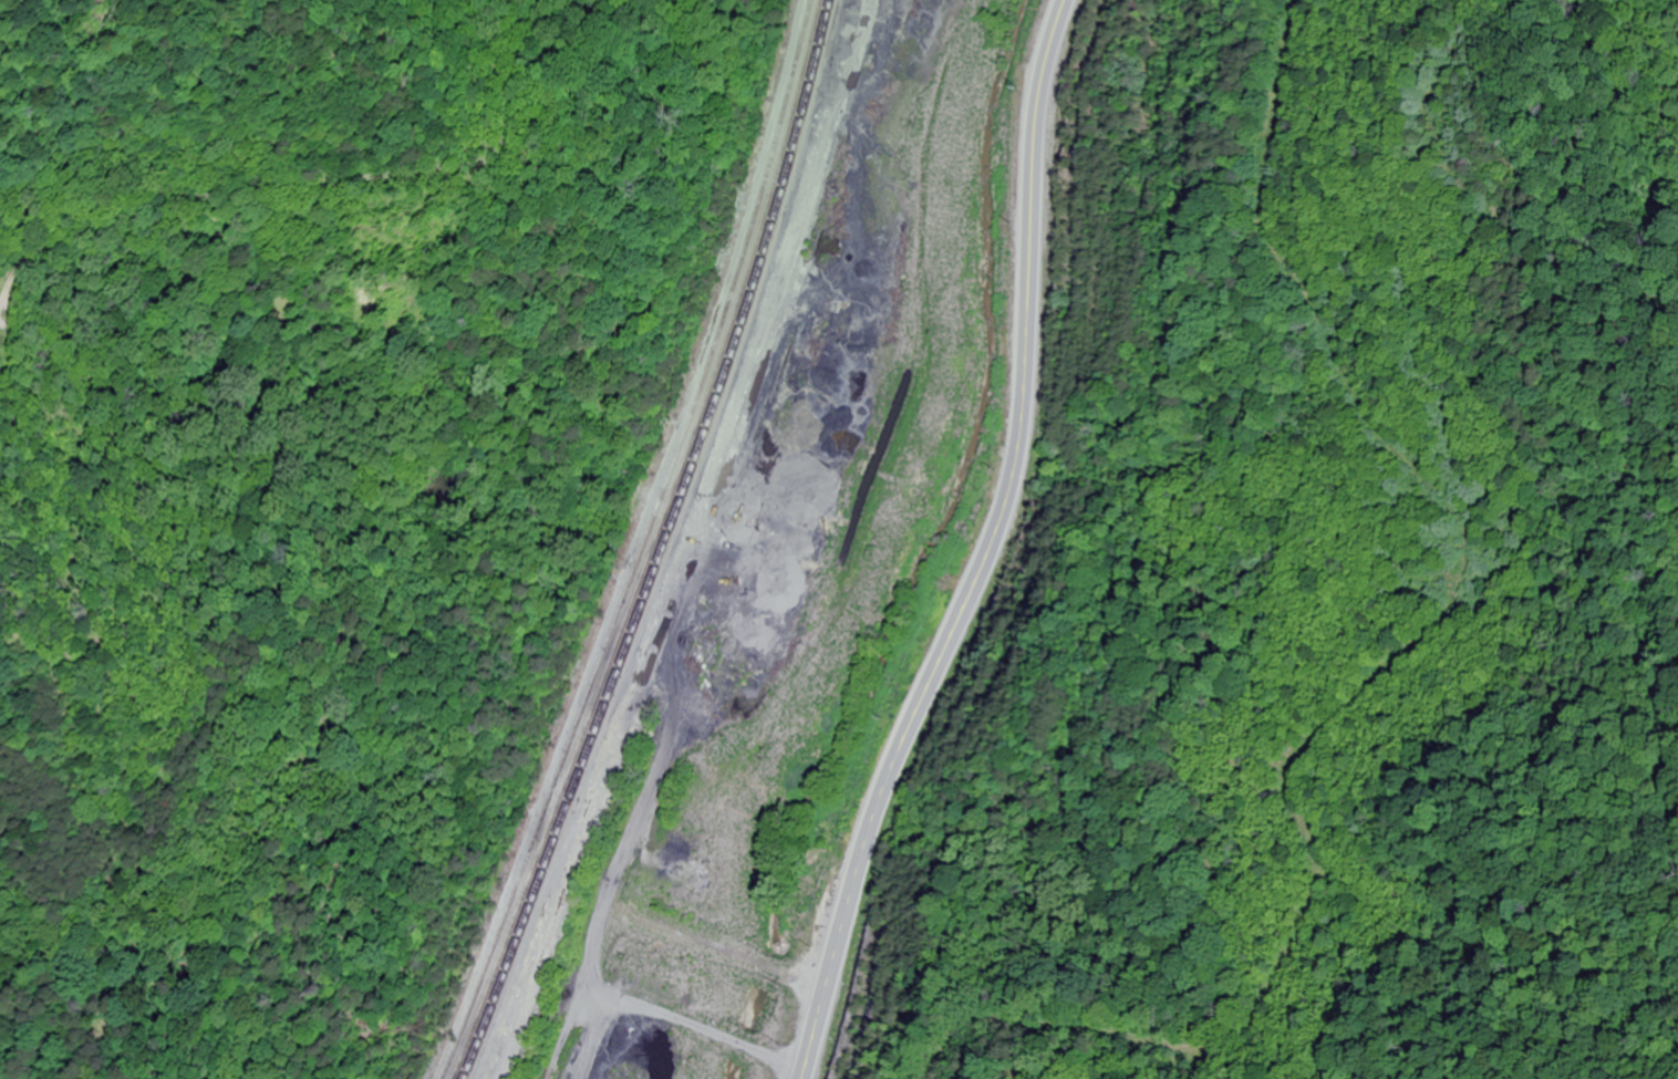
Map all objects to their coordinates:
railway: (784, 267)
railway: (677, 543)
railway: (644, 544)
railway: (656, 544)
railway: (665, 544)
railway: (697, 546)
road: (983, 551)
building: (633, 580)
building: (612, 636)
building: (594, 685)
railway: (570, 898)

